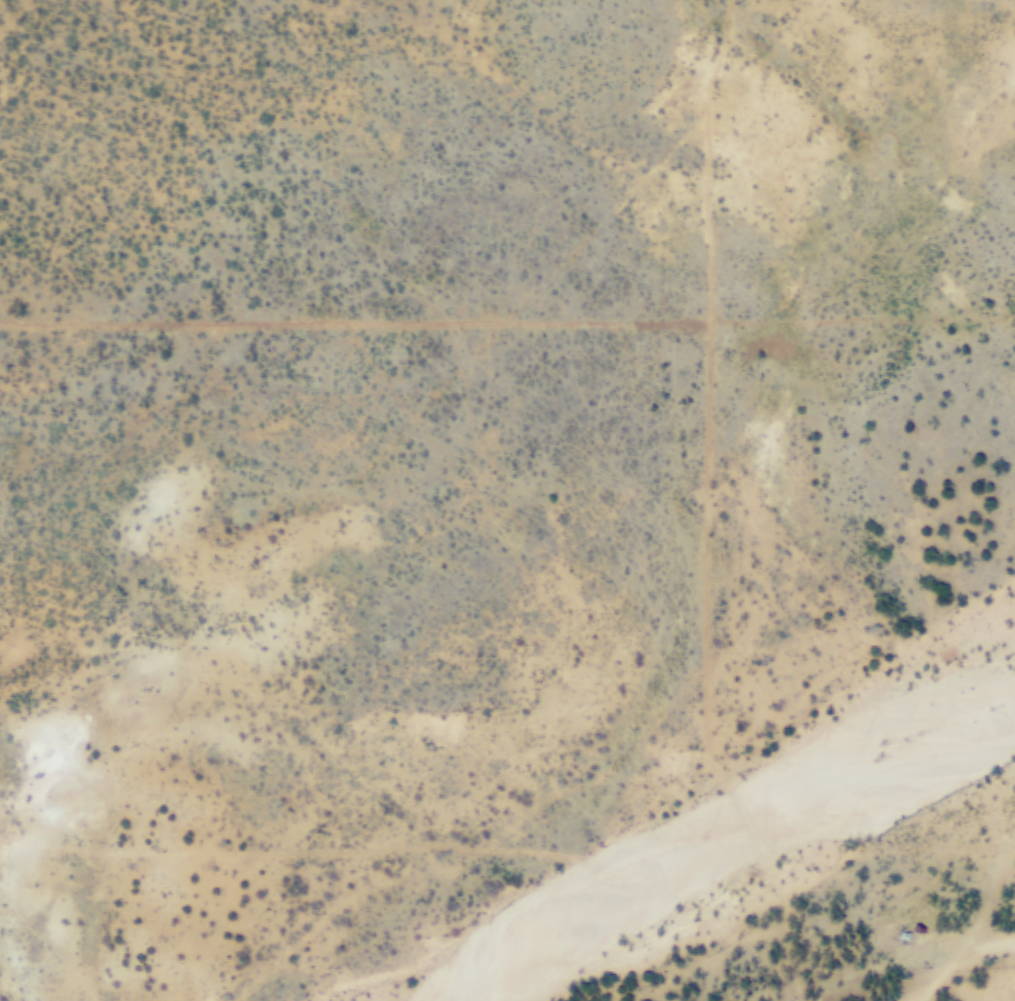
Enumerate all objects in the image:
road: (960, 958)

